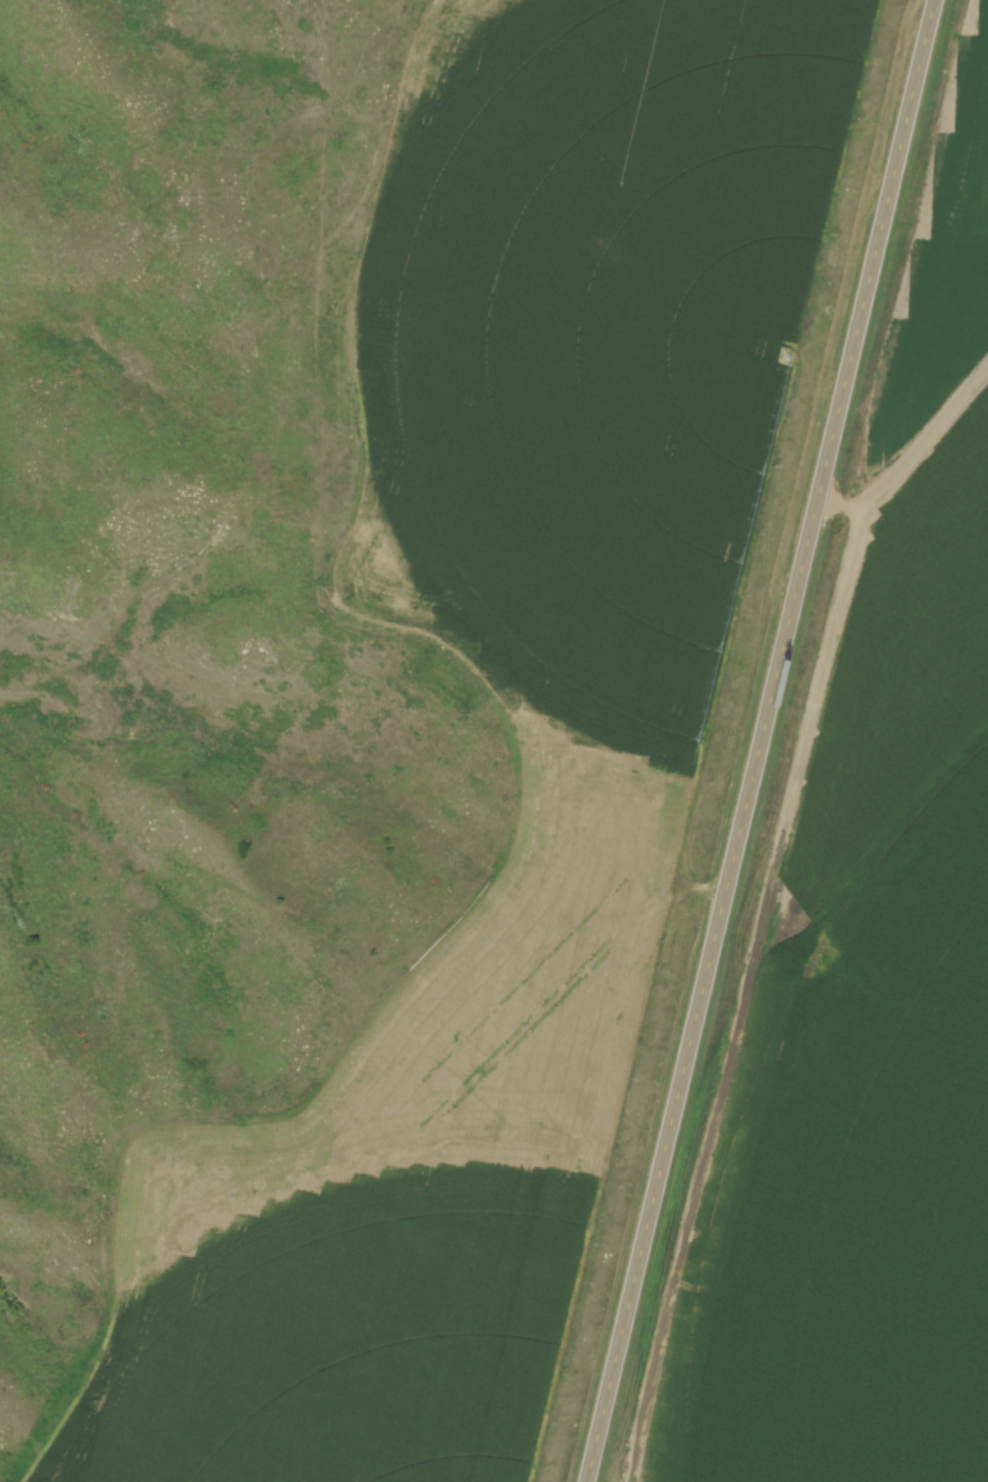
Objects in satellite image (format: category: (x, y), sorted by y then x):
road: (757, 741)

